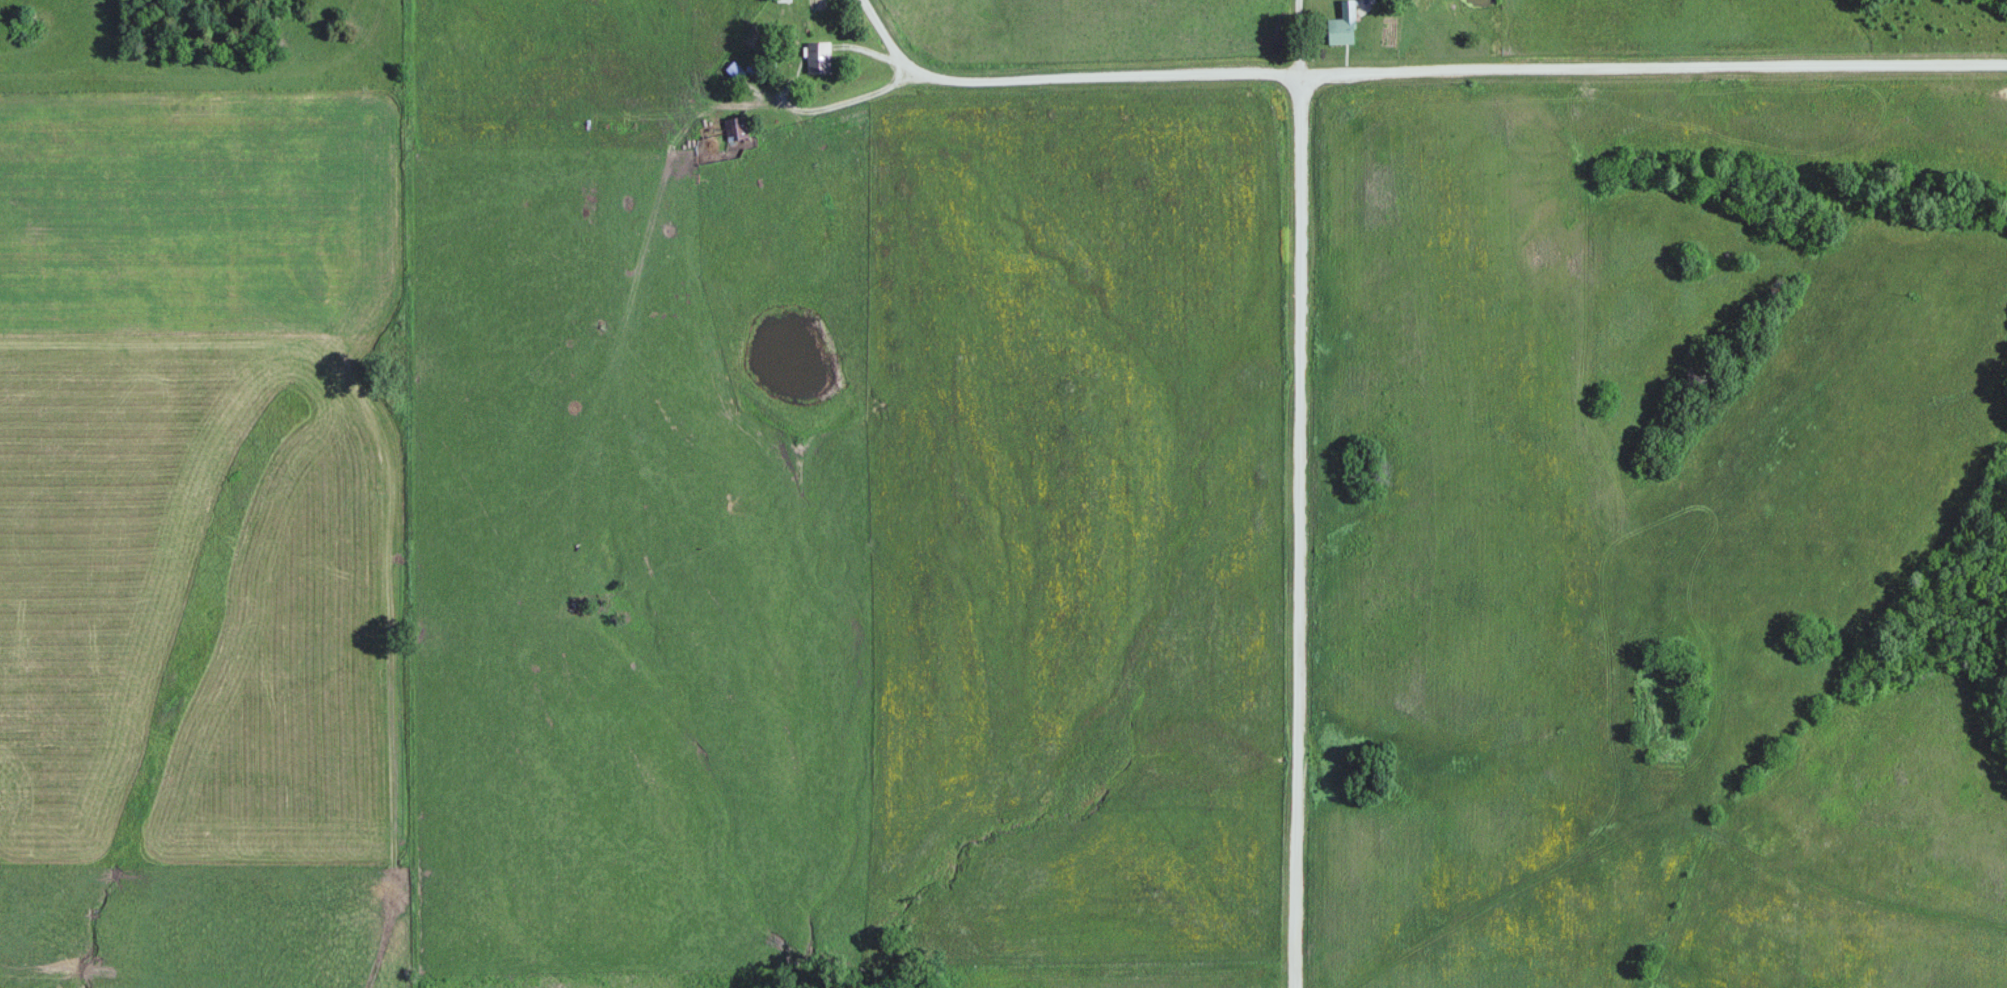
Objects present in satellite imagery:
building: (1344, 27)
road: (1305, 35)
building: (819, 58)
road: (1422, 63)
building: (735, 72)
road: (777, 83)
building: (739, 128)
crop: (198, 215)
road: (1299, 529)
crop: (195, 606)
road: (384, 946)

